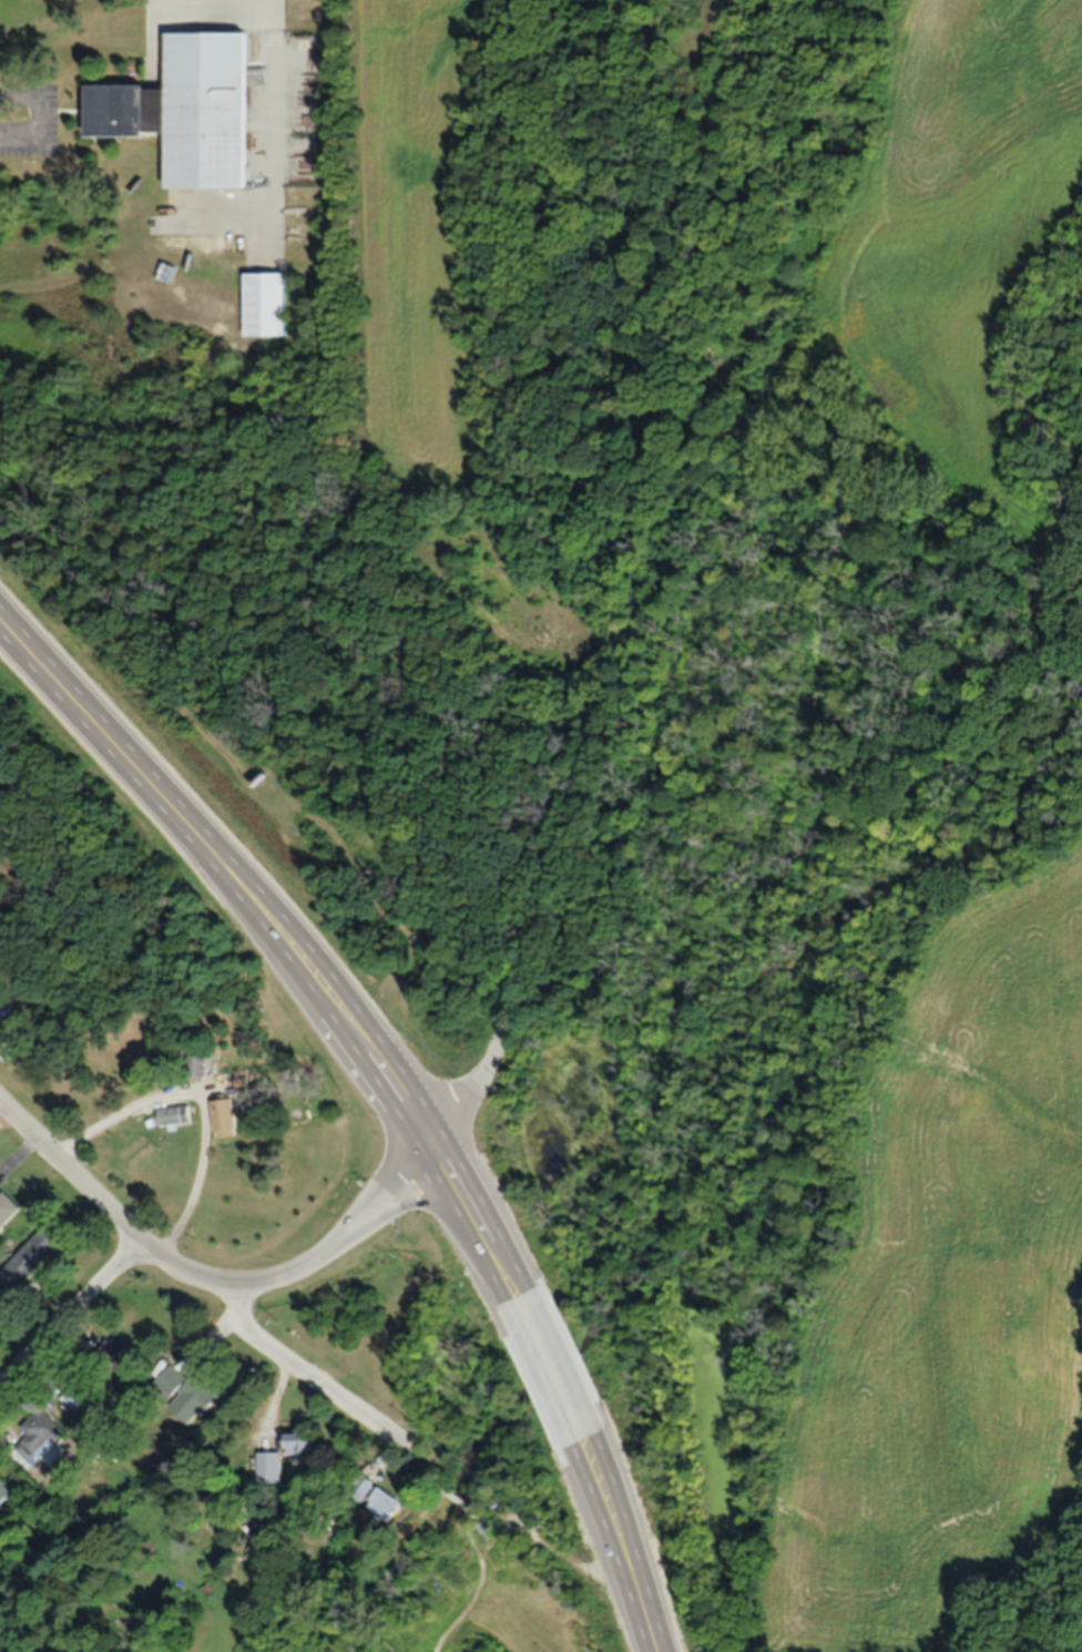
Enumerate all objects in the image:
road: (262, 16)
building: (197, 109)
road: (38, 113)
road: (275, 128)
crop: (955, 215)
crop: (418, 230)
building: (265, 305)
road: (489, 741)
park: (377, 767)
road: (564, 837)
road: (287, 944)
building: (0, 997)
building: (195, 1067)
road: (476, 1078)
road: (200, 1097)
building: (171, 1116)
building: (222, 1119)
building: (7, 1209)
road: (109, 1215)
road: (347, 1240)
building: (31, 1257)
road: (70, 1319)
building: (118, 1350)
road: (548, 1363)
road: (309, 1376)
building: (185, 1394)
building: (41, 1435)
building: (299, 1440)
building: (267, 1468)
building: (4, 1492)
building: (385, 1505)
road: (615, 1533)

